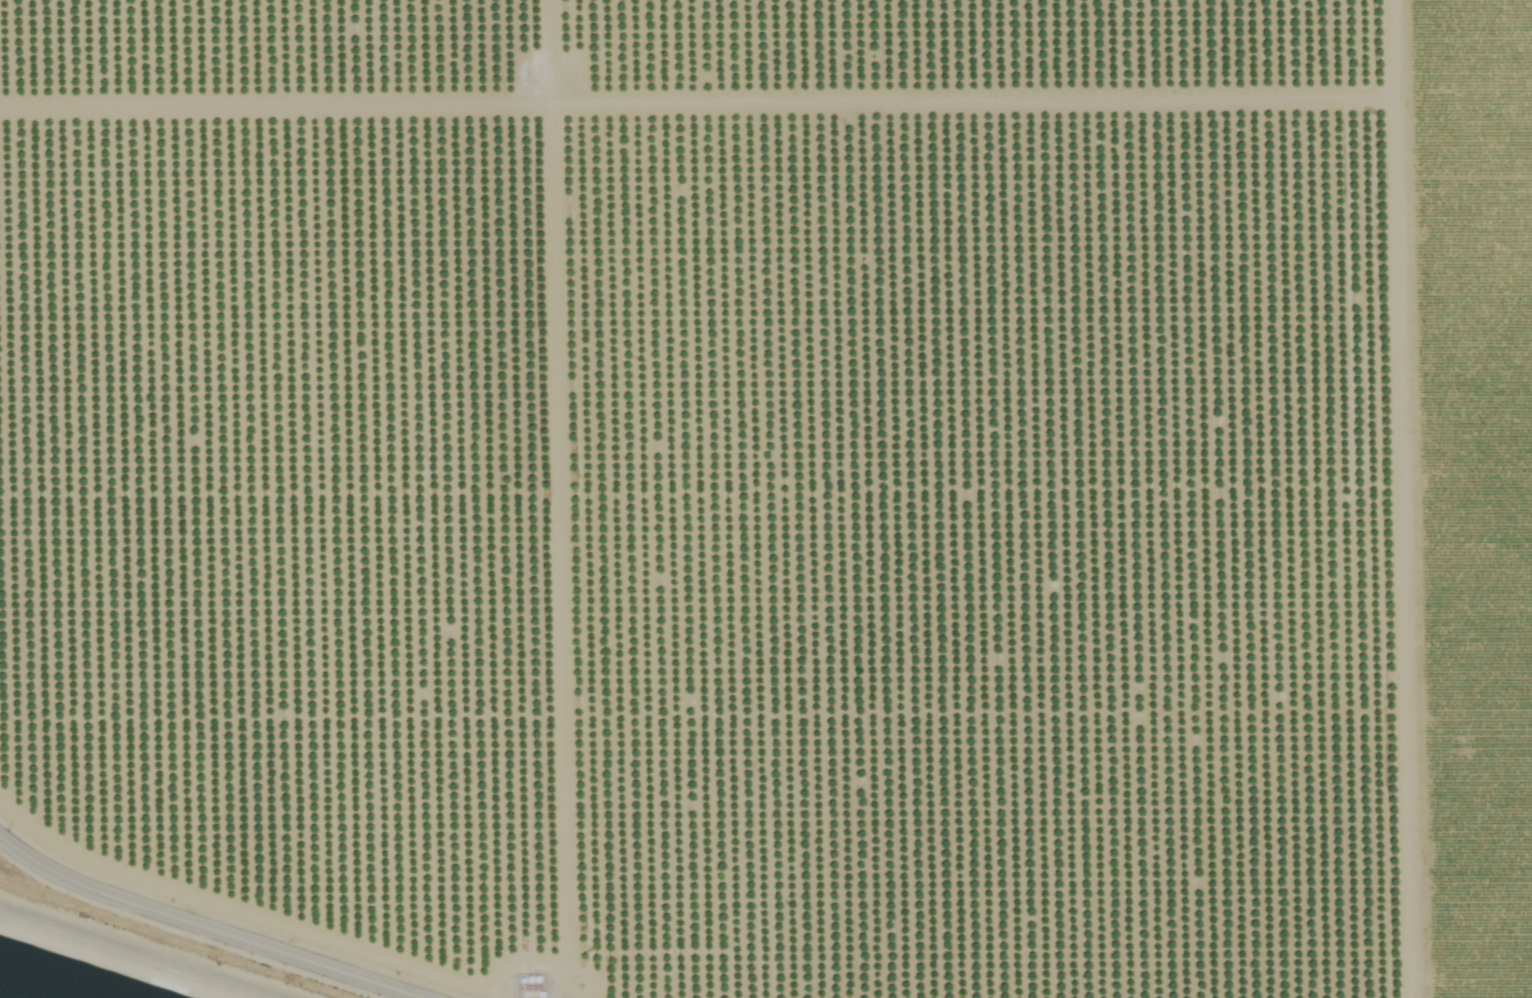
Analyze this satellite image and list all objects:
crop: (781, 488)
road: (266, 898)

